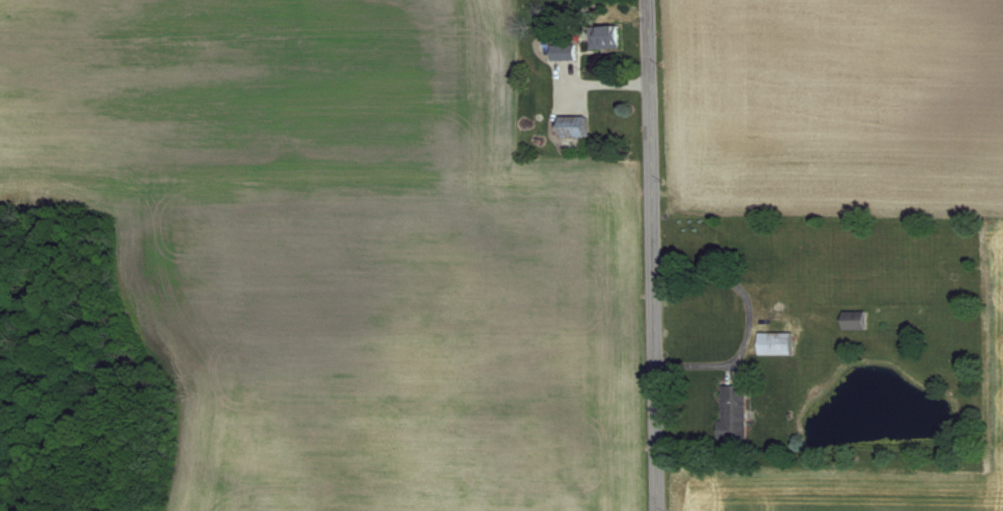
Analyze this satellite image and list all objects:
building: (603, 37)
building: (561, 52)
building: (569, 127)
road: (652, 255)
road: (750, 319)
building: (852, 320)
building: (772, 343)
building: (731, 413)

